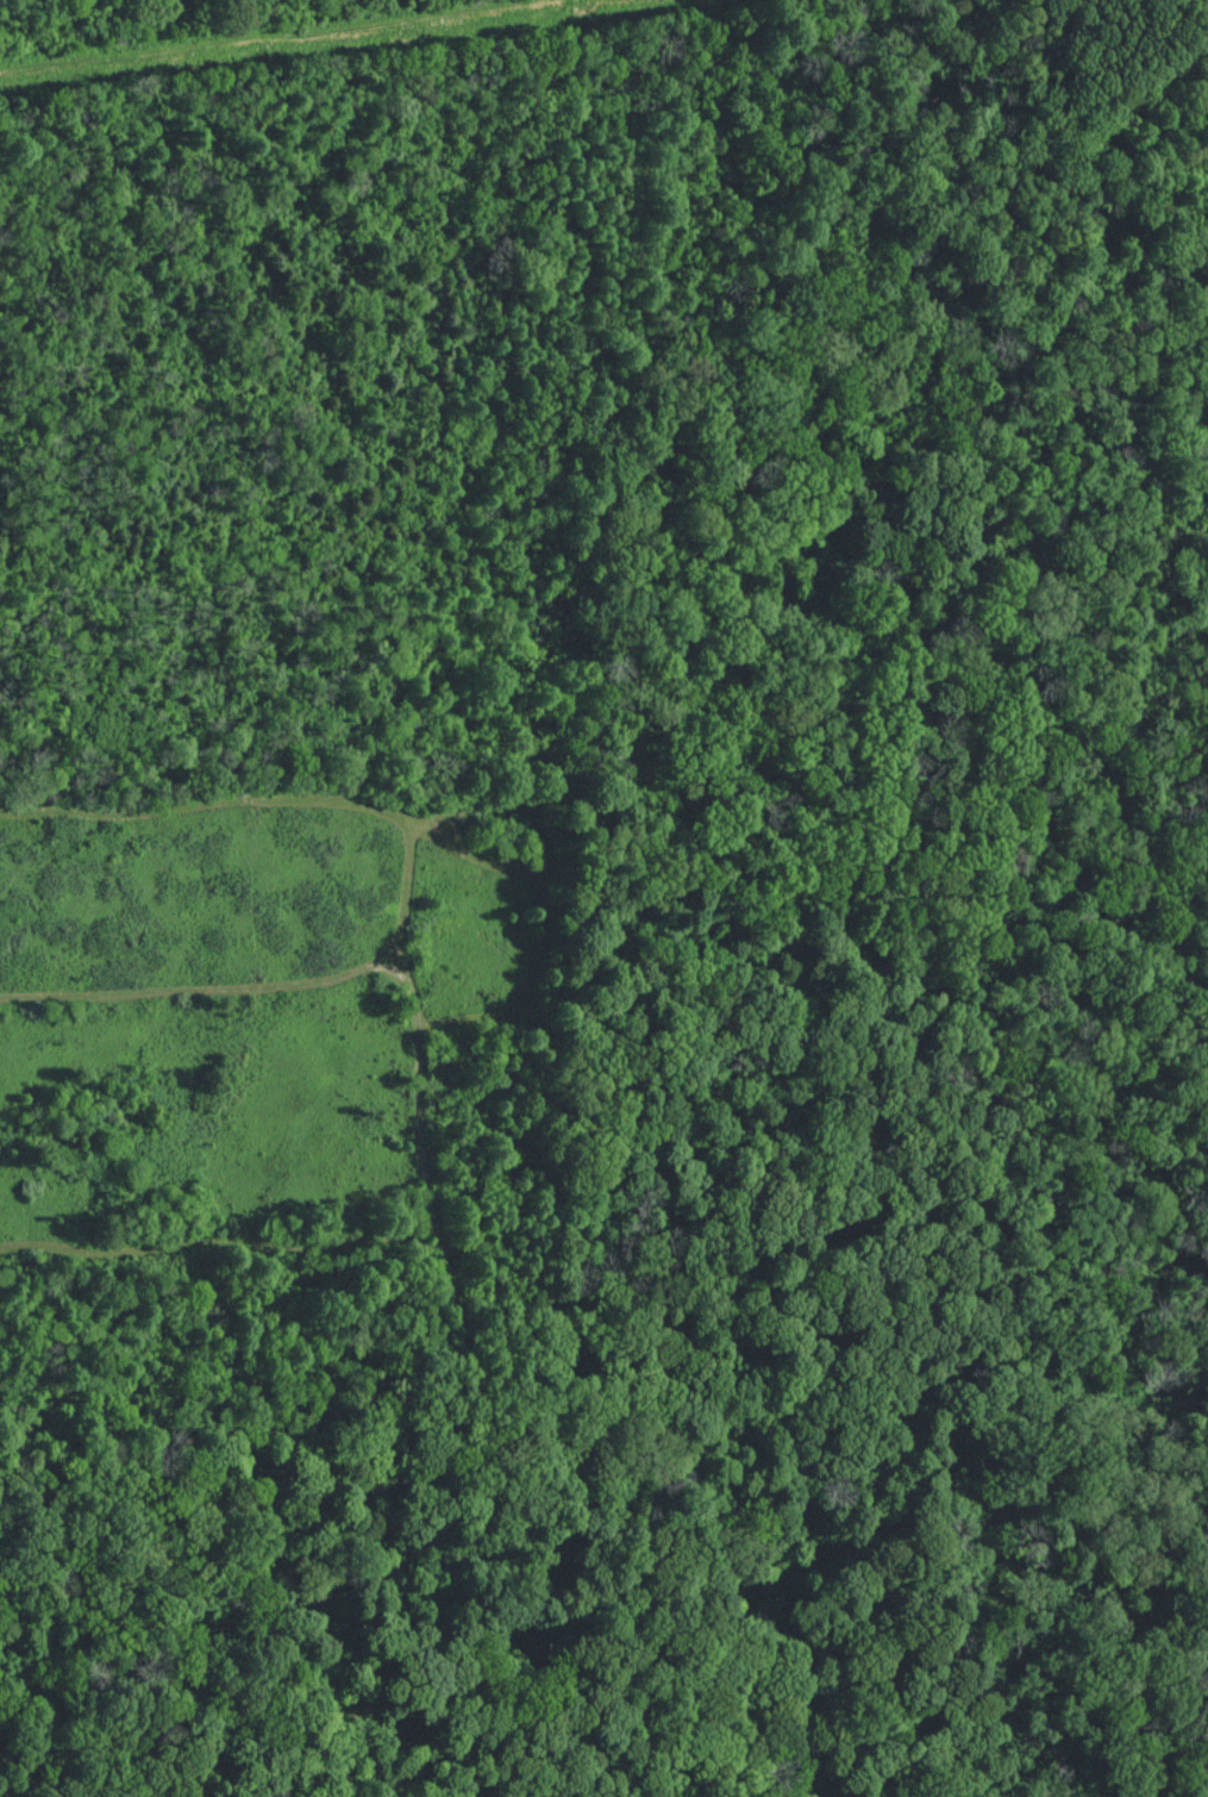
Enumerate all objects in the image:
road: (683, 1342)
building: (475, 1791)

